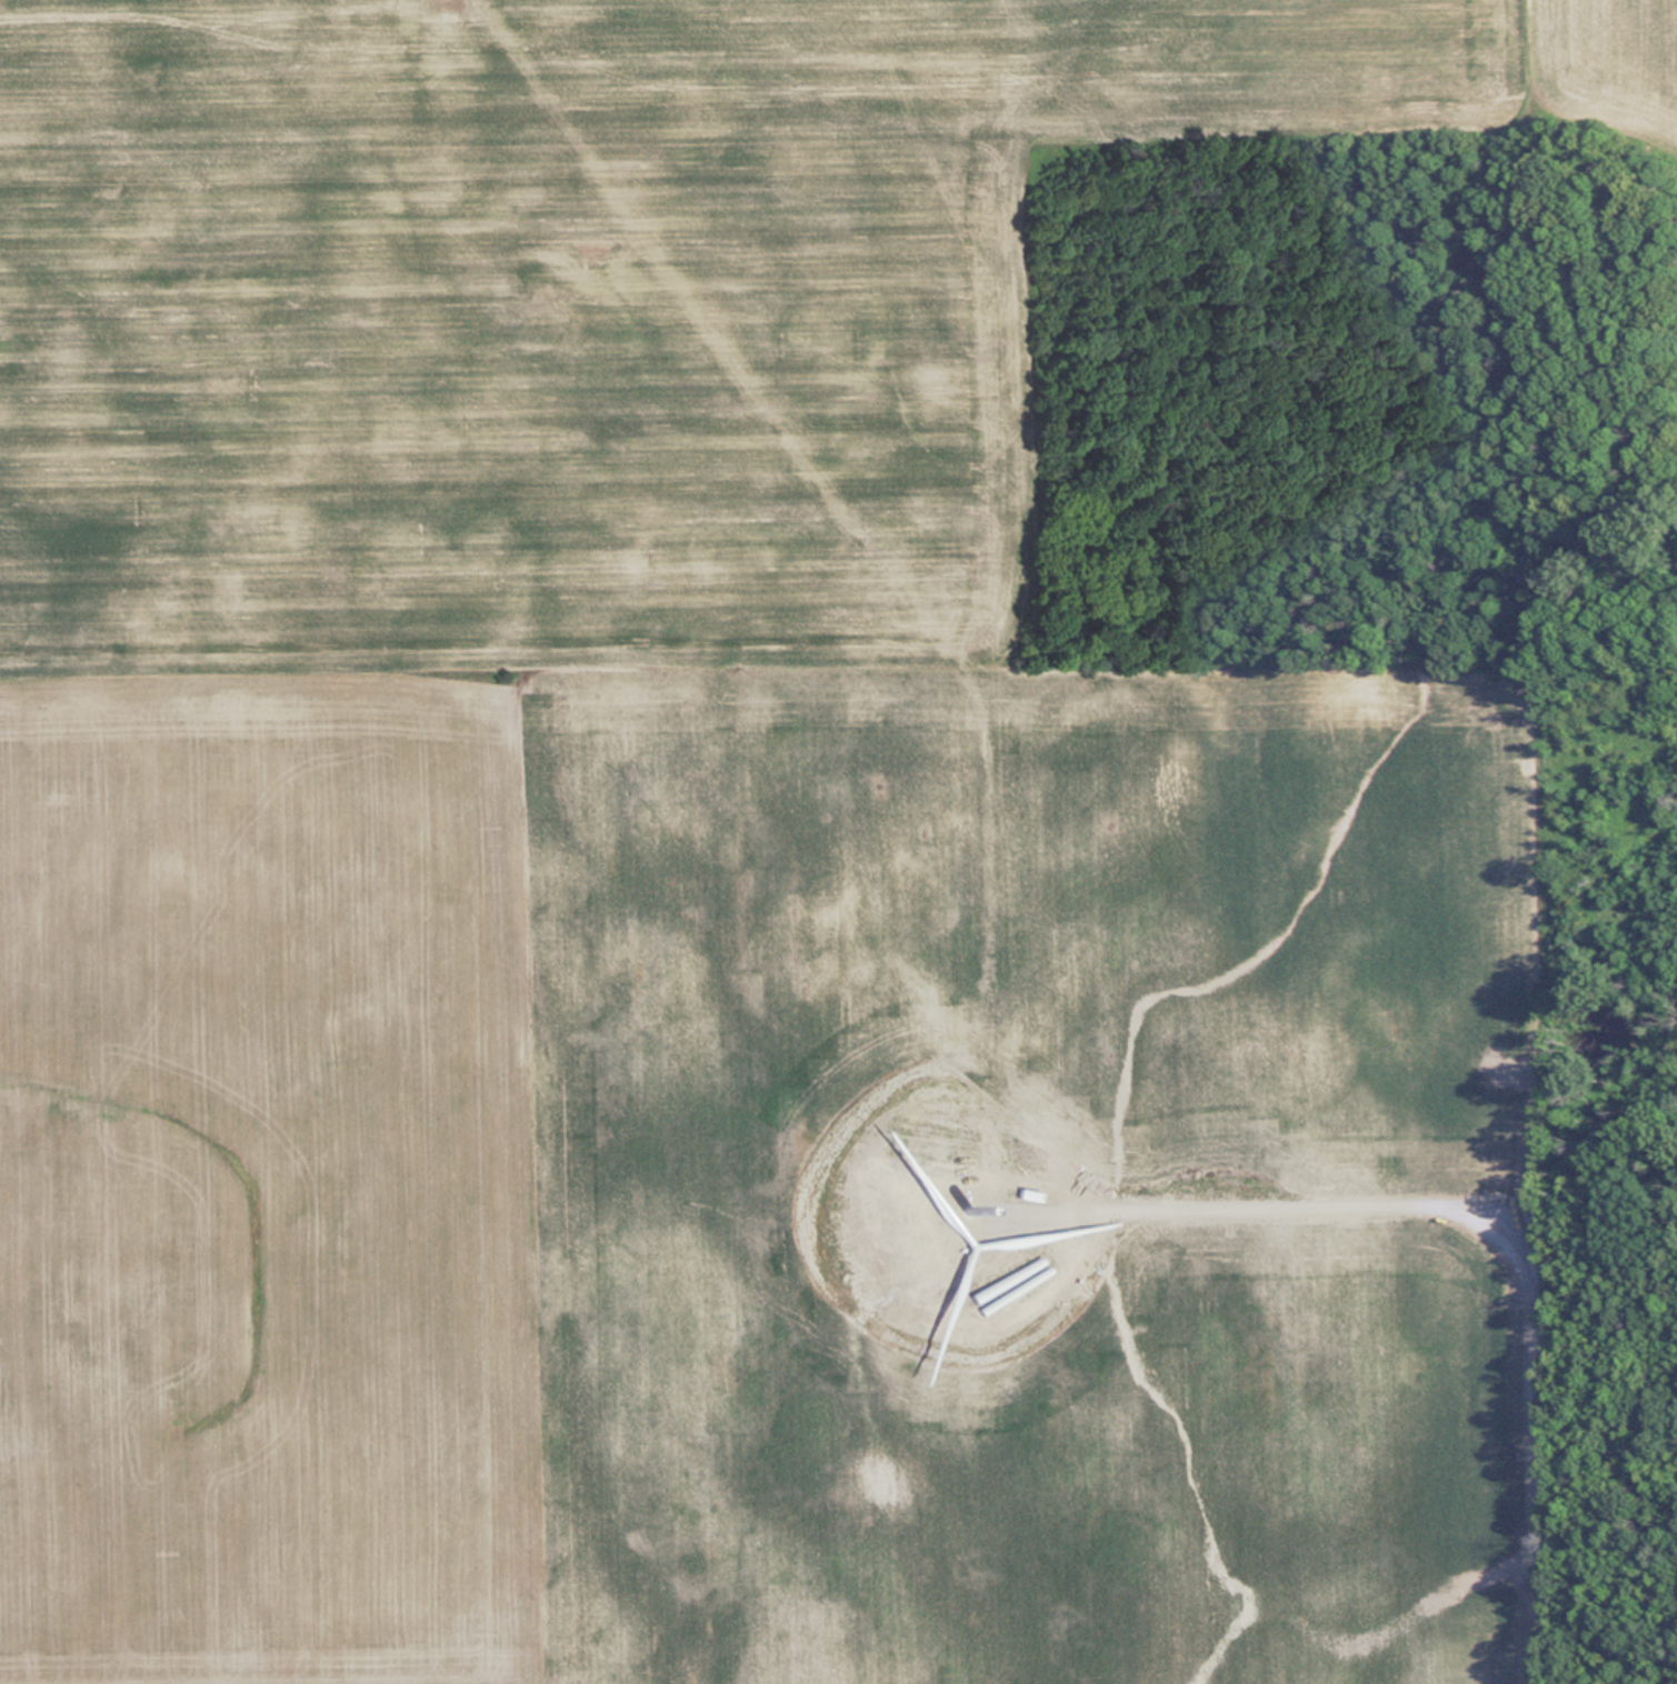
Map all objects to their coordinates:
wind turbine: (978, 1216)

